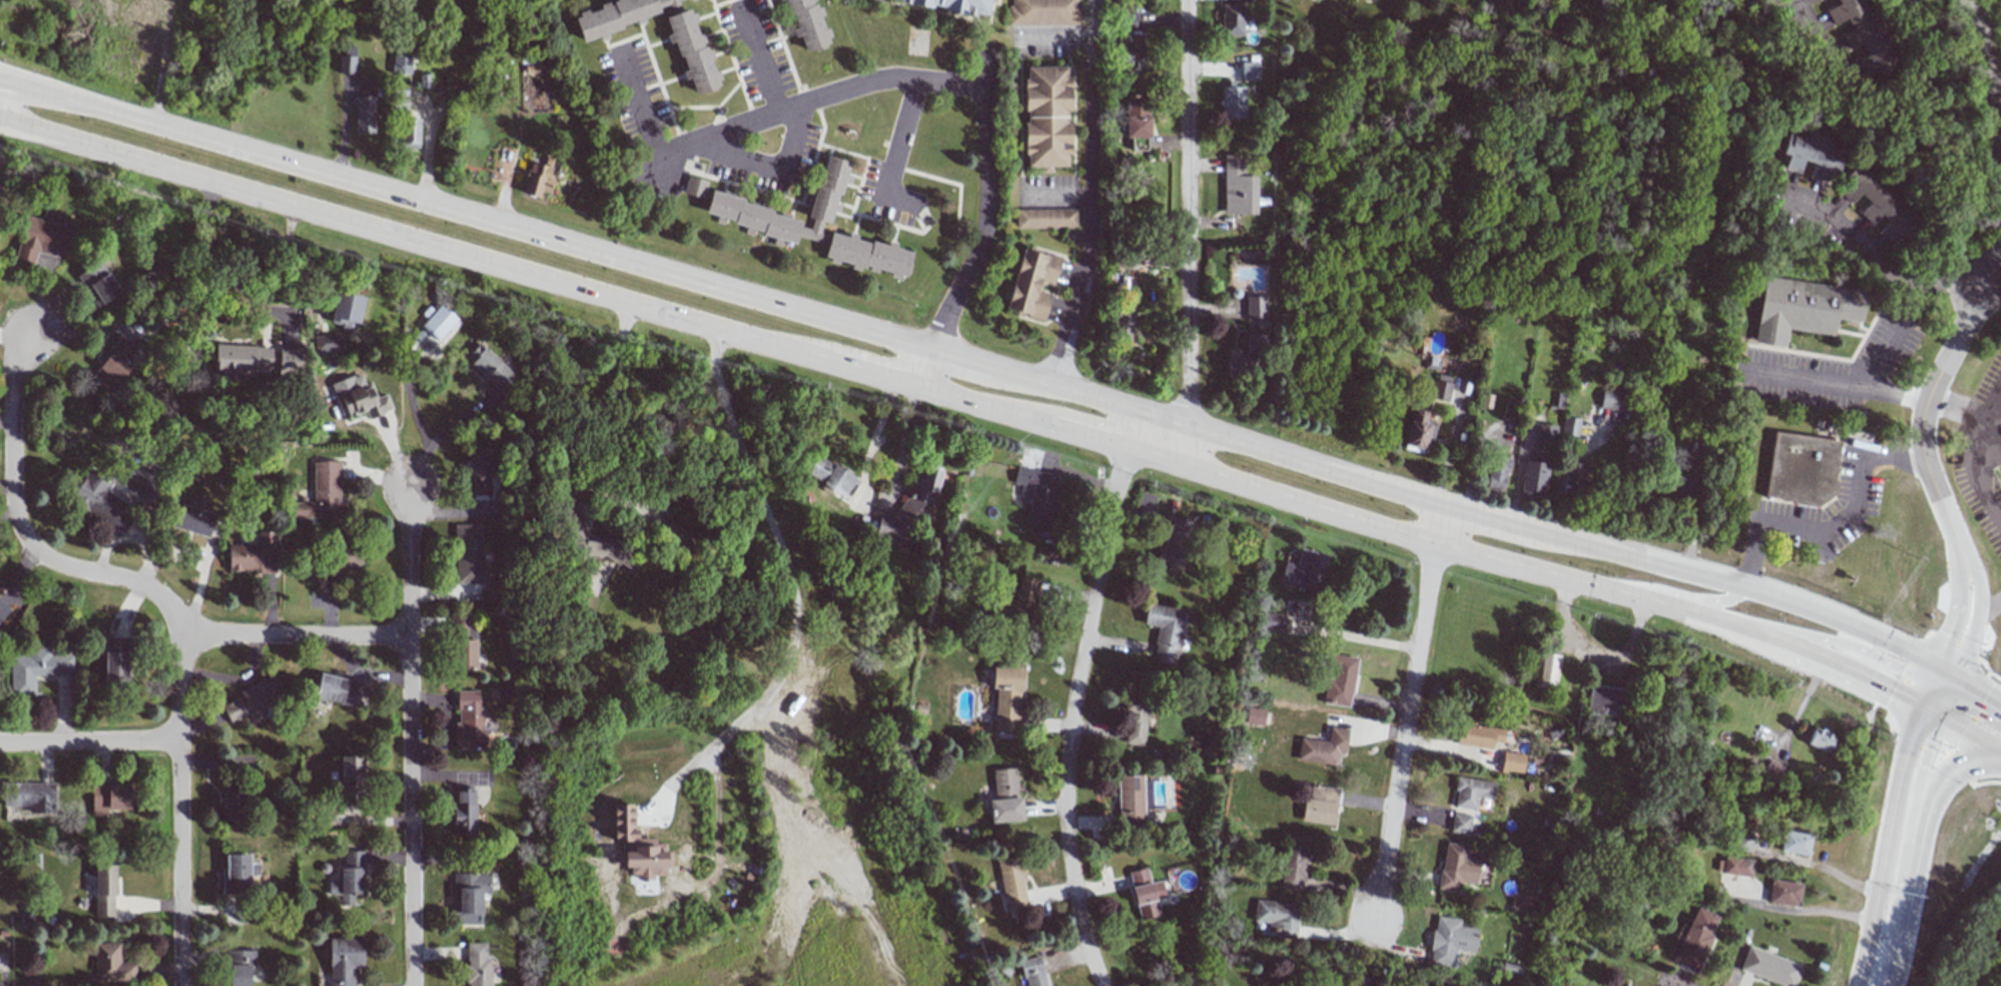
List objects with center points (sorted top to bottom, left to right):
building: (702, 0)
building: (687, 1)
building: (950, 6)
building: (1041, 13)
building: (1236, 17)
building: (804, 24)
road: (1813, 28)
building: (1862, 36)
building: (683, 47)
building: (1133, 49)
building: (347, 60)
road: (764, 63)
building: (401, 64)
building: (1249, 70)
road: (41, 87)
road: (41, 99)
building: (398, 100)
road: (2, 101)
road: (814, 101)
building: (1232, 102)
road: (642, 107)
building: (364, 114)
building: (1040, 119)
building: (1137, 123)
road: (899, 132)
building: (409, 133)
road: (1981, 137)
building: (1807, 151)
road: (773, 166)
building: (537, 177)
building: (690, 186)
building: (1238, 187)
road: (1057, 196)
road: (1089, 196)
building: (1876, 200)
building: (1042, 218)
road: (987, 222)
building: (809, 223)
road: (1188, 231)
road: (413, 237)
building: (41, 239)
road: (1877, 257)
road: (220, 261)
building: (1028, 282)
building: (98, 283)
building: (1255, 308)
building: (1799, 308)
building: (345, 310)
building: (1123, 321)
building: (439, 322)
building: (327, 343)
building: (1248, 354)
road: (1879, 358)
building: (288, 359)
building: (242, 360)
building: (1431, 363)
building: (112, 366)
building: (491, 368)
road: (875, 371)
road: (1009, 375)
road: (1830, 386)
building: (1441, 387)
road: (599, 396)
building: (1614, 400)
building: (364, 401)
road: (990, 405)
road: (1920, 406)
building: (1511, 410)
building: (1570, 428)
building: (1418, 429)
building: (1545, 433)
road: (905, 440)
road: (435, 442)
road: (1121, 442)
road: (1446, 451)
road: (1986, 453)
road: (1971, 456)
road: (1470, 460)
building: (1797, 469)
building: (480, 473)
building: (1497, 474)
road: (1558, 474)
building: (831, 476)
building: (1572, 477)
building: (1533, 479)
building: (1684, 485)
building: (323, 494)
building: (1037, 495)
building: (101, 501)
road: (1853, 503)
building: (911, 506)
road: (1694, 514)
building: (194, 520)
building: (679, 537)
building: (1174, 544)
road: (1473, 551)
building: (253, 555)
road: (786, 555)
building: (468, 556)
road: (1752, 556)
building: (335, 565)
building: (1304, 571)
building: (1018, 602)
road: (1713, 604)
road: (1959, 604)
road: (1990, 605)
road: (1979, 606)
building: (2, 608)
road: (167, 608)
building: (1271, 622)
building: (1165, 631)
road: (294, 635)
road: (1363, 635)
road: (1778, 636)
building: (464, 641)
road: (1877, 657)
building: (116, 667)
building: (35, 669)
road: (1859, 669)
building: (1547, 670)
traffic signals: (1938, 670)
road: (233, 678)
building: (1339, 680)
traffic signals: (1932, 681)
traffic signals: (1957, 683)
building: (336, 690)
building: (1007, 698)
road: (1803, 698)
building: (254, 699)
road: (1078, 699)
building: (1605, 701)
traffic signals: (1920, 704)
road: (1932, 711)
road: (1408, 713)
building: (1254, 715)
traffic signals: (1944, 718)
building: (1135, 721)
building: (468, 722)
road: (1972, 735)
building: (1479, 736)
road: (410, 737)
building: (1819, 739)
road: (90, 742)
building: (1323, 747)
building: (1512, 762)
building: (242, 763)
building: (1771, 770)
building: (351, 778)
building: (1470, 792)
building: (29, 796)
building: (110, 797)
building: (1005, 797)
building: (1130, 801)
building: (1320, 805)
building: (232, 806)
building: (464, 811)
road: (1932, 812)
building: (1460, 823)
road: (1891, 826)
road: (1915, 832)
building: (1742, 841)
building: (1795, 843)
building: (638, 846)
building: (1293, 863)
building: (1734, 866)
building: (1456, 868)
building: (238, 874)
building: (349, 877)
road: (1837, 877)
building: (1012, 883)
building: (104, 890)
building: (1144, 893)
building: (1785, 893)
building: (469, 896)
building: (1522, 902)
road: (1808, 912)
building: (1277, 917)
building: (1695, 939)
building: (1449, 940)
building: (344, 960)
building: (111, 964)
building: (477, 965)
building: (239, 967)
building: (1769, 967)
building: (1510, 968)
building: (1033, 971)
road: (1677, 984)

